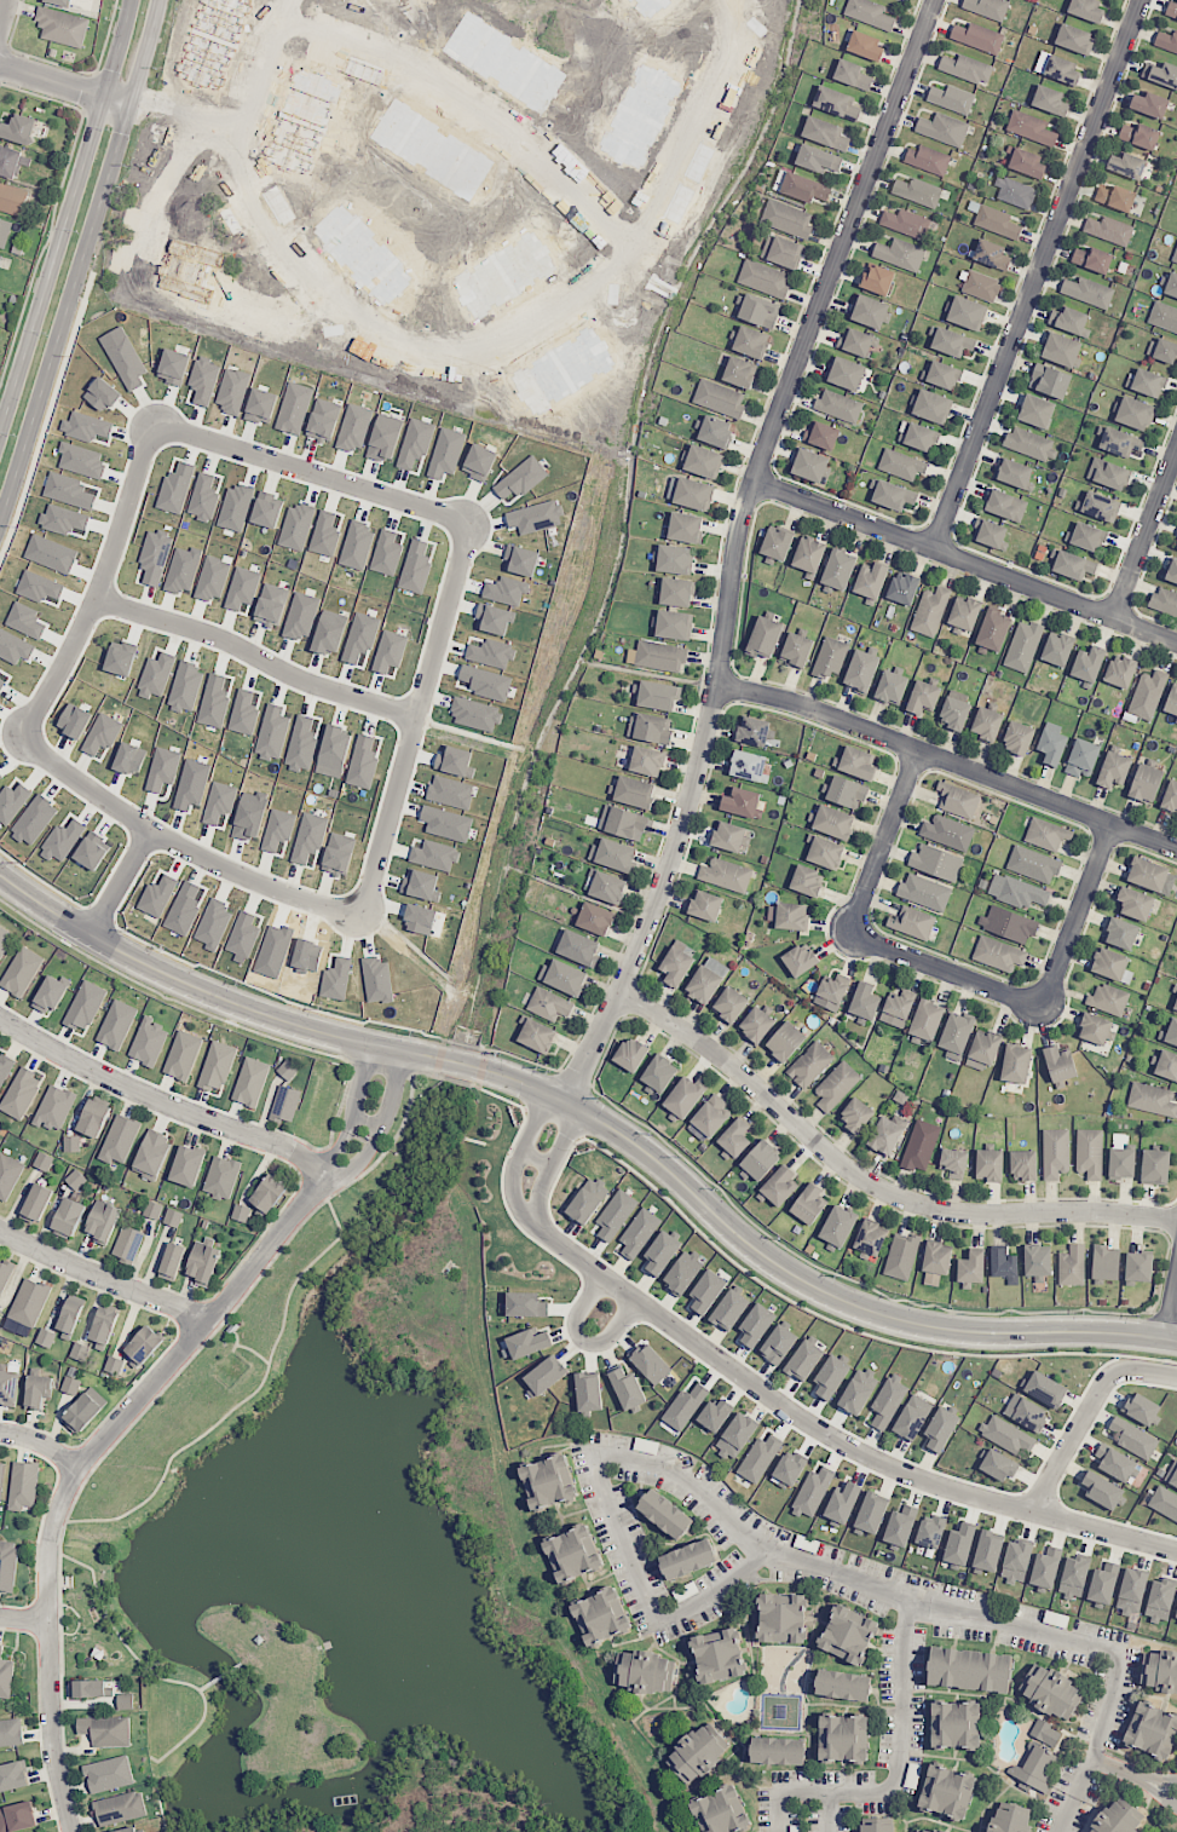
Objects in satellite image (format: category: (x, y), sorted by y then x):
building: (68, 1)
building: (987, 7)
building: (1086, 10)
building: (1171, 10)
street lamp: (142, 13)
building: (869, 13)
road: (6, 21)
building: (65, 25)
building: (977, 36)
building: (1074, 38)
building: (1166, 41)
building: (865, 46)
building: (967, 68)
building: (1057, 68)
building: (1161, 73)
building: (852, 75)
road: (264, 80)
road: (64, 85)
building: (952, 98)
road: (474, 99)
building: (1050, 100)
building: (836, 103)
building: (1150, 104)
building: (24, 128)
building: (944, 128)
building: (1031, 128)
street lamp: (108, 129)
building: (825, 133)
building: (1140, 136)
building: (818, 159)
building: (928, 160)
building: (13, 161)
building: (1026, 162)
building: (1127, 165)
building: (804, 188)
building: (918, 191)
building: (1015, 192)
building: (1115, 197)
building: (16, 200)
road: (67, 215)
building: (786, 218)
building: (996, 221)
building: (906, 223)
building: (1, 226)
street lamp: (76, 230)
building: (1109, 230)
building: (781, 250)
building: (900, 254)
building: (992, 254)
building: (1175, 257)
building: (1, 259)
building: (1092, 259)
road: (80, 260)
road: (1035, 273)
building: (763, 278)
building: (877, 280)
building: (981, 284)
building: (1171, 286)
building: (1087, 292)
building: (758, 311)
building: (870, 311)
building: (967, 312)
building: (1164, 316)
building: (1071, 321)
street lamp: (42, 333)
road: (474, 338)
building: (751, 341)
building: (856, 342)
building: (952, 342)
building: (1061, 350)
building: (1162, 350)
building: (739, 371)
building: (847, 373)
building: (942, 375)
building: (1050, 381)
building: (1148, 382)
building: (719, 398)
building: (838, 405)
building: (933, 407)
building: (1037, 410)
building: (1135, 414)
building: (715, 431)
street lamp: (12, 433)
building: (821, 434)
building: (921, 437)
building: (1029, 443)
building: (1121, 443)
building: (704, 461)
building: (901, 465)
building: (812, 466)
building: (1012, 473)
building: (1108, 473)
road: (315, 474)
building: (693, 494)
building: (894, 495)
building: (1006, 506)
building: (1101, 506)
building: (685, 528)
building: (991, 534)
road: (1146, 535)
building: (1086, 536)
building: (775, 545)
building: (1176, 546)
road: (733, 547)
building: (809, 554)
building: (675, 559)
road: (964, 559)
building: (1073, 565)
building: (838, 570)
building: (1172, 572)
building: (871, 581)
road: (102, 586)
building: (902, 588)
building: (676, 592)
building: (1164, 601)
building: (930, 611)
building: (964, 613)
building: (674, 624)
building: (993, 629)
building: (765, 636)
building: (1023, 646)
building: (1057, 649)
building: (796, 650)
building: (660, 656)
building: (830, 657)
road: (256, 661)
building: (1089, 663)
building: (861, 670)
building: (1120, 672)
building: (892, 687)
building: (658, 695)
building: (1147, 695)
building: (923, 697)
building: (1171, 701)
building: (954, 713)
road: (416, 722)
building: (986, 724)
building: (650, 727)
building: (754, 731)
building: (1019, 738)
building: (1052, 747)
building: (1083, 757)
building: (647, 761)
road: (948, 761)
building: (856, 762)
building: (749, 765)
building: (1114, 770)
building: (1146, 783)
building: (634, 791)
building: (847, 793)
building: (1170, 797)
building: (958, 800)
building: (740, 802)
building: (833, 822)
building: (623, 823)
building: (947, 831)
building: (1046, 834)
building: (728, 836)
road: (883, 840)
road: (180, 845)
building: (613, 854)
street lamp: (19, 862)
building: (936, 862)
building: (1033, 864)
building: (1148, 874)
building: (726, 875)
road: (119, 881)
building: (807, 881)
road: (47, 885)
building: (607, 887)
building: (924, 892)
building: (1017, 892)
building: (1135, 903)
building: (706, 905)
road: (102, 914)
building: (787, 915)
road: (1075, 915)
building: (595, 918)
building: (912, 922)
building: (1008, 924)
building: (1121, 933)
building: (4, 940)
street lamp: (162, 947)
building: (578, 947)
building: (998, 954)
building: (801, 958)
building: (676, 963)
building: (1112, 966)
road: (946, 968)
building: (22, 970)
building: (564, 977)
building: (706, 980)
street lamp: (238, 984)
building: (831, 992)
building: (50, 995)
road: (166, 998)
building: (1108, 999)
building: (864, 1002)
building: (549, 1004)
building: (729, 1004)
building: (85, 1006)
building: (1175, 1006)
street lamp: (321, 1009)
building: (898, 1009)
road: (324, 1013)
building: (927, 1019)
building: (116, 1024)
building: (758, 1024)
building: (1095, 1029)
building: (1172, 1032)
street lamp: (412, 1033)
building: (956, 1035)
building: (537, 1036)
building: (785, 1041)
building: (149, 1042)
building: (982, 1050)
street lamp: (498, 1054)
building: (631, 1054)
building: (183, 1055)
road: (439, 1056)
road: (348, 1061)
road: (565, 1061)
building: (810, 1064)
building: (1016, 1064)
building: (1060, 1064)
building: (1167, 1065)
building: (217, 1066)
road: (379, 1066)
building: (5, 1067)
road: (481, 1067)
building: (287, 1070)
road: (560, 1070)
road: (410, 1073)
road: (595, 1073)
building: (659, 1073)
road: (575, 1078)
road: (360, 1079)
building: (250, 1081)
road: (468, 1083)
road: (590, 1085)
building: (836, 1085)
road: (393, 1089)
road: (543, 1089)
building: (21, 1093)
road: (344, 1094)
building: (683, 1098)
street lamp: (600, 1099)
building: (1152, 1099)
road: (161, 1101)
building: (285, 1104)
building: (54, 1107)
road: (524, 1108)
road: (584, 1110)
road: (405, 1113)
building: (711, 1116)
building: (856, 1116)
building: (93, 1118)
road: (595, 1118)
road: (365, 1120)
road: (554, 1120)
street lamp: (652, 1134)
building: (885, 1135)
road: (515, 1137)
road: (582, 1137)
building: (735, 1137)
building: (120, 1139)
building: (71, 1143)
road: (337, 1146)
building: (919, 1146)
street lamp: (573, 1151)
building: (1055, 1153)
building: (1090, 1153)
building: (151, 1154)
road: (536, 1156)
road: (566, 1158)
road: (358, 1159)
road: (515, 1159)
building: (761, 1160)
building: (42, 1162)
road: (552, 1162)
building: (953, 1163)
building: (1121, 1163)
building: (988, 1164)
building: (187, 1165)
building: (1023, 1165)
building: (1155, 1166)
building: (8, 1175)
building: (221, 1177)
building: (75, 1179)
road: (869, 1182)
building: (778, 1187)
street lamp: (716, 1189)
building: (269, 1193)
building: (588, 1200)
building: (36, 1203)
building: (809, 1204)
building: (152, 1210)
building: (241, 1212)
building: (616, 1215)
building: (68, 1217)
building: (172, 1217)
building: (103, 1221)
building: (837, 1227)
building: (639, 1232)
building: (871, 1238)
street lamp: (778, 1239)
building: (128, 1243)
road: (1170, 1245)
road: (1175, 1246)
building: (662, 1252)
building: (901, 1256)
road: (1165, 1260)
building: (172, 1261)
building: (1038, 1262)
building: (1106, 1262)
building: (203, 1263)
building: (936, 1263)
building: (1003, 1263)
building: (1072, 1266)
building: (971, 1267)
building: (1138, 1267)
building: (683, 1272)
building: (5, 1274)
road: (102, 1277)
street lamp: (836, 1277)
road: (844, 1277)
building: (706, 1291)
street lamp: (923, 1303)
building: (526, 1304)
building: (729, 1309)
building: (0, 1312)
street lamp: (1084, 1312)
road: (1154, 1312)
road: (1172, 1312)
street lamp: (1011, 1313)
building: (71, 1314)
street lamp: (1140, 1315)
road: (1166, 1315)
building: (104, 1325)
building: (756, 1325)
road: (849, 1327)
building: (45, 1337)
road: (583, 1340)
building: (529, 1342)
building: (144, 1344)
building: (778, 1344)
building: (804, 1360)
building: (651, 1364)
building: (114, 1365)
road: (1095, 1372)
building: (547, 1373)
building: (830, 1377)
building: (70, 1385)
building: (8, 1387)
building: (625, 1388)
building: (1045, 1389)
building: (37, 1390)
building: (588, 1392)
building: (858, 1392)
building: (888, 1401)
building: (683, 1406)
building: (1142, 1408)
building: (85, 1410)
building: (1026, 1412)
road: (1086, 1412)
building: (715, 1415)
building: (912, 1417)
building: (941, 1429)
building: (1006, 1435)
building: (735, 1436)
road: (832, 1438)
building: (1133, 1438)
road: (41, 1442)
building: (760, 1458)
building: (1115, 1463)
road: (79, 1464)
building: (998, 1465)
building: (789, 1468)
building: (1, 1476)
building: (1173, 1479)
building: (548, 1482)
building: (23, 1485)
building: (1102, 1491)
building: (812, 1493)
building: (1164, 1502)
building: (842, 1503)
building: (665, 1514)
building: (871, 1514)
building: (901, 1523)
building: (930, 1531)
road: (743, 1538)
building: (960, 1543)
building: (988, 1550)
building: (573, 1554)
building: (688, 1559)
building: (1016, 1561)
building: (7, 1565)
building: (1046, 1566)
building: (1074, 1575)
building: (1103, 1583)
building: (1132, 1591)
building: (1160, 1600)
road: (648, 1601)
building: (601, 1617)
building: (783, 1618)
building: (1176, 1618)
road: (24, 1619)
building: (1056, 1619)
building: (848, 1635)
road: (1103, 1654)
building: (719, 1655)
building: (969, 1669)
building: (645, 1671)
building: (1159, 1671)
building: (5, 1676)
building: (843, 1686)
building: (90, 1688)
building: (1051, 1692)
building: (125, 1700)
building: (956, 1724)
building: (105, 1730)
building: (1152, 1730)
building: (11, 1733)
building: (843, 1738)
building: (778, 1751)
building: (697, 1753)
building: (1035, 1768)
road: (892, 1769)
building: (109, 1774)
building: (13, 1775)
road: (1133, 1778)
building: (947, 1791)
building: (120, 1808)
building: (721, 1811)
road: (829, 1811)
building: (17, 1817)
building: (1119, 1817)
building: (1010, 1820)
building: (878, 1825)
building: (133, 1830)
building: (923, 1830)

